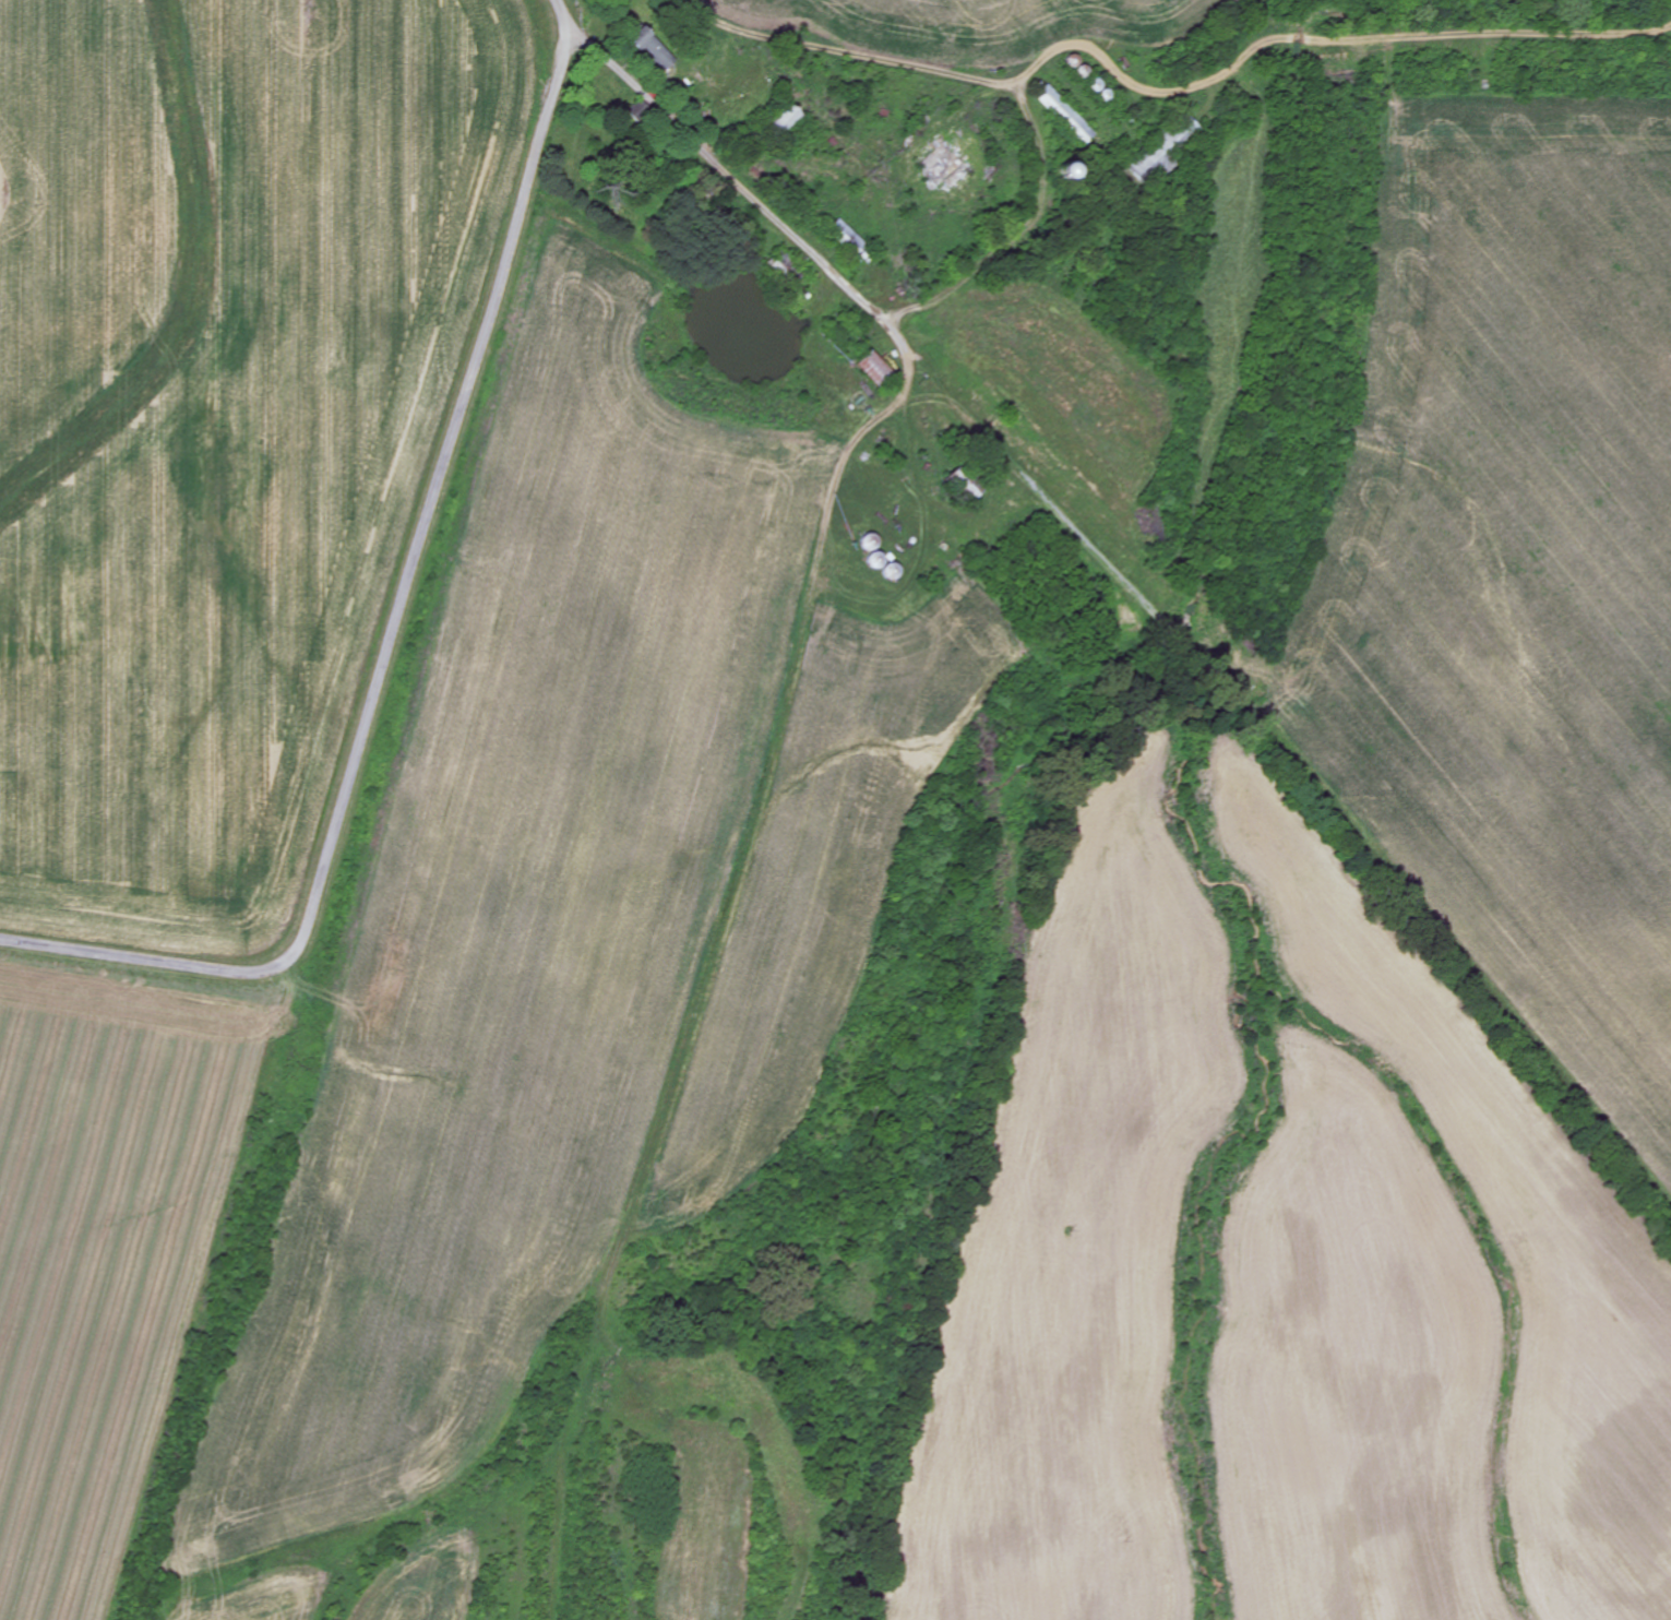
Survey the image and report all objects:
building: (653, 51)
building: (874, 370)
road: (393, 620)

